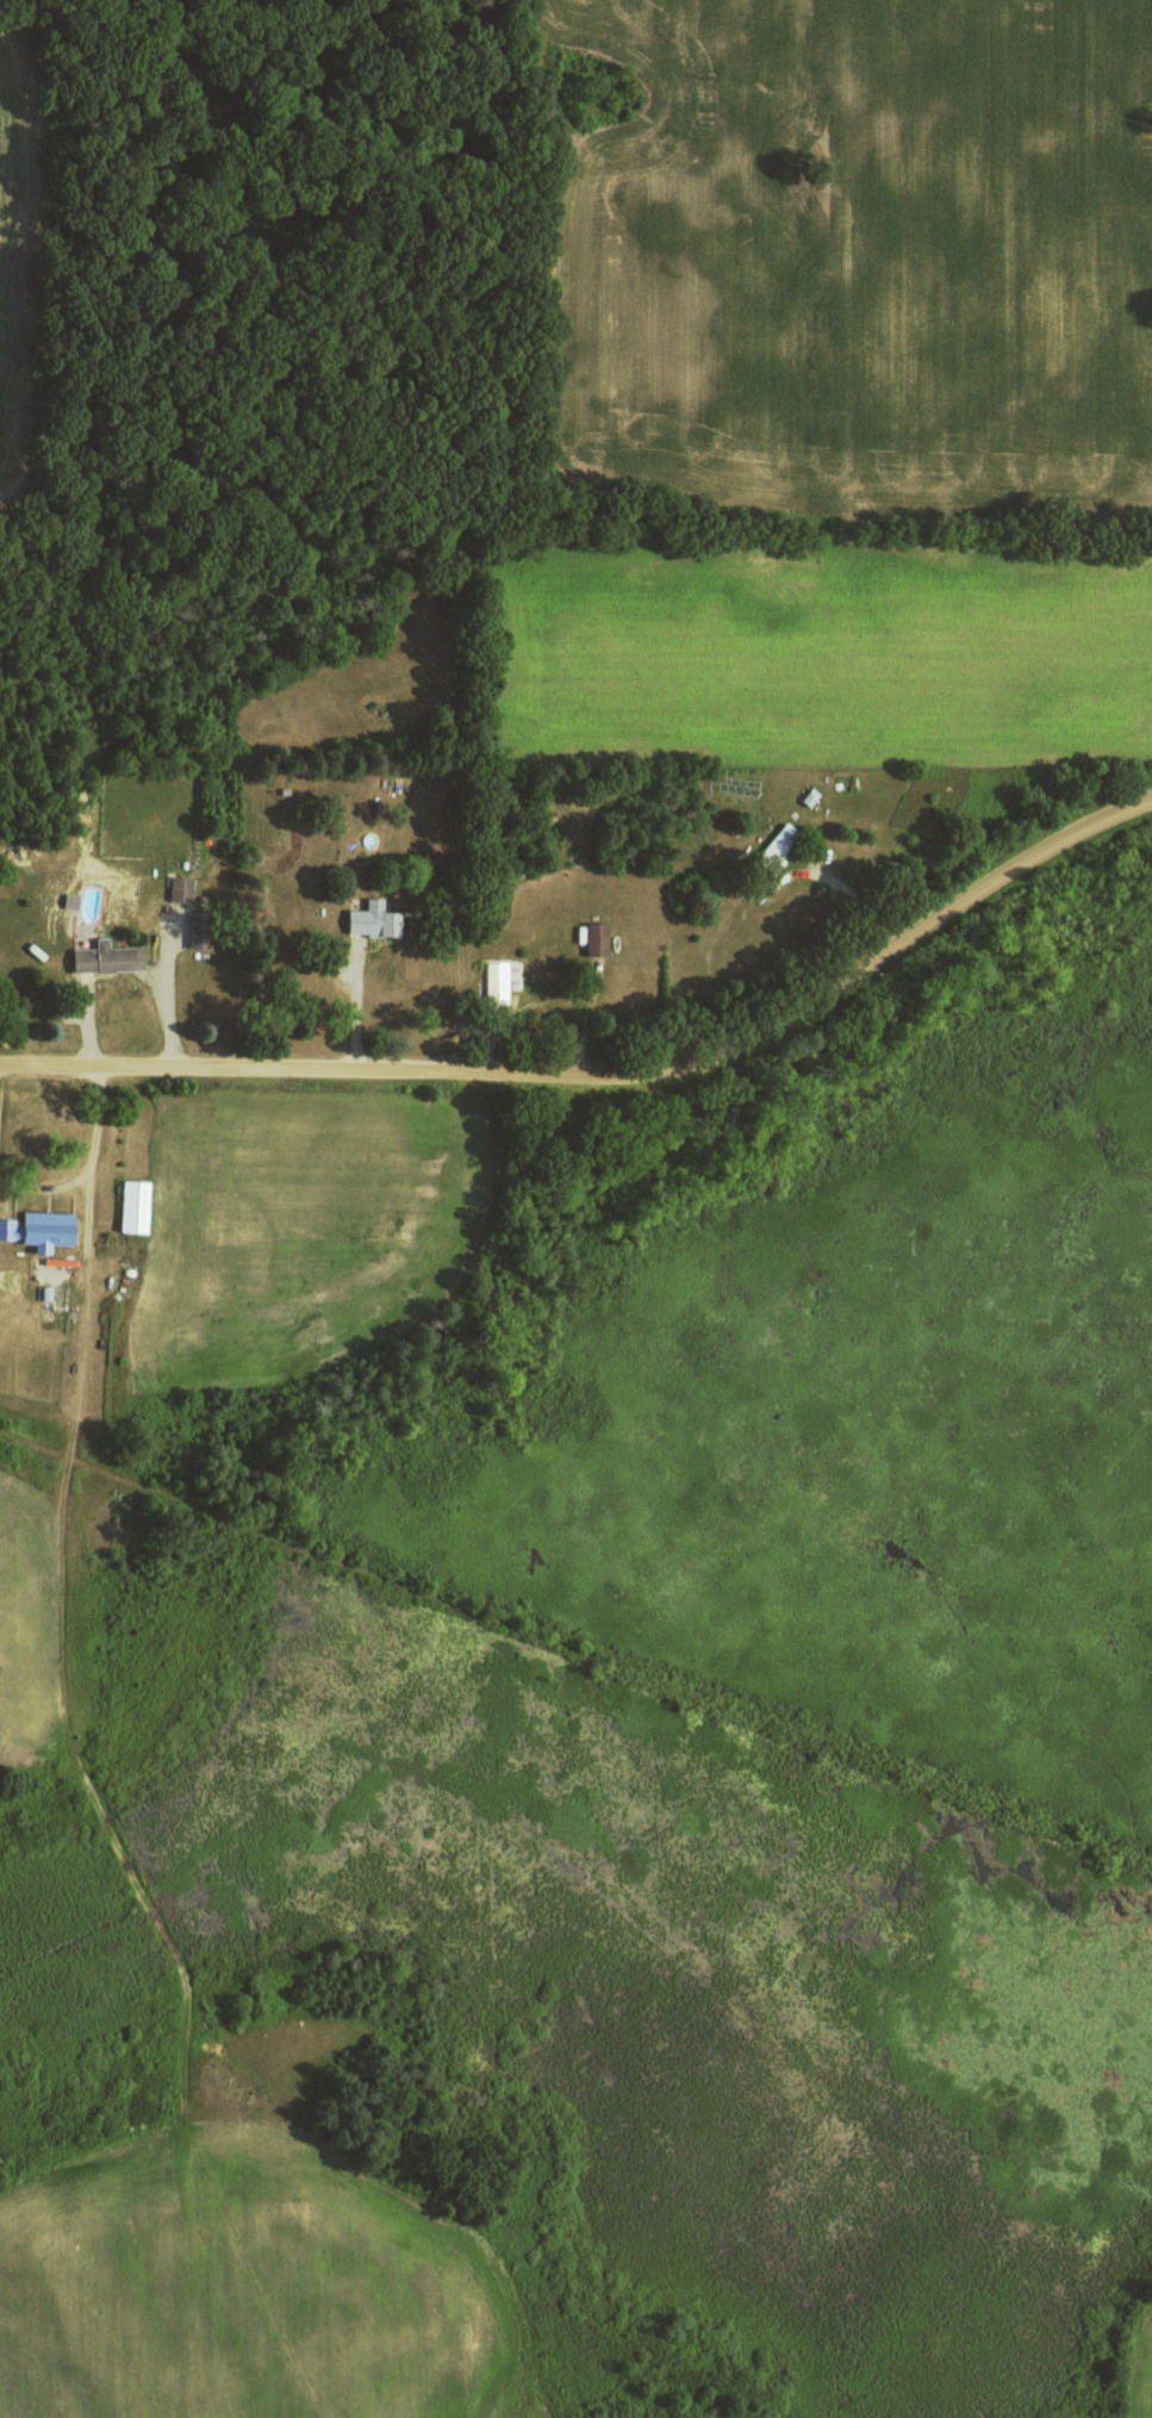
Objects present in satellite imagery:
building: (782, 841)
building: (185, 888)
building: (376, 920)
building: (203, 930)
building: (597, 937)
building: (110, 958)
building: (498, 981)
road: (611, 1075)
building: (136, 1206)
building: (42, 1230)

